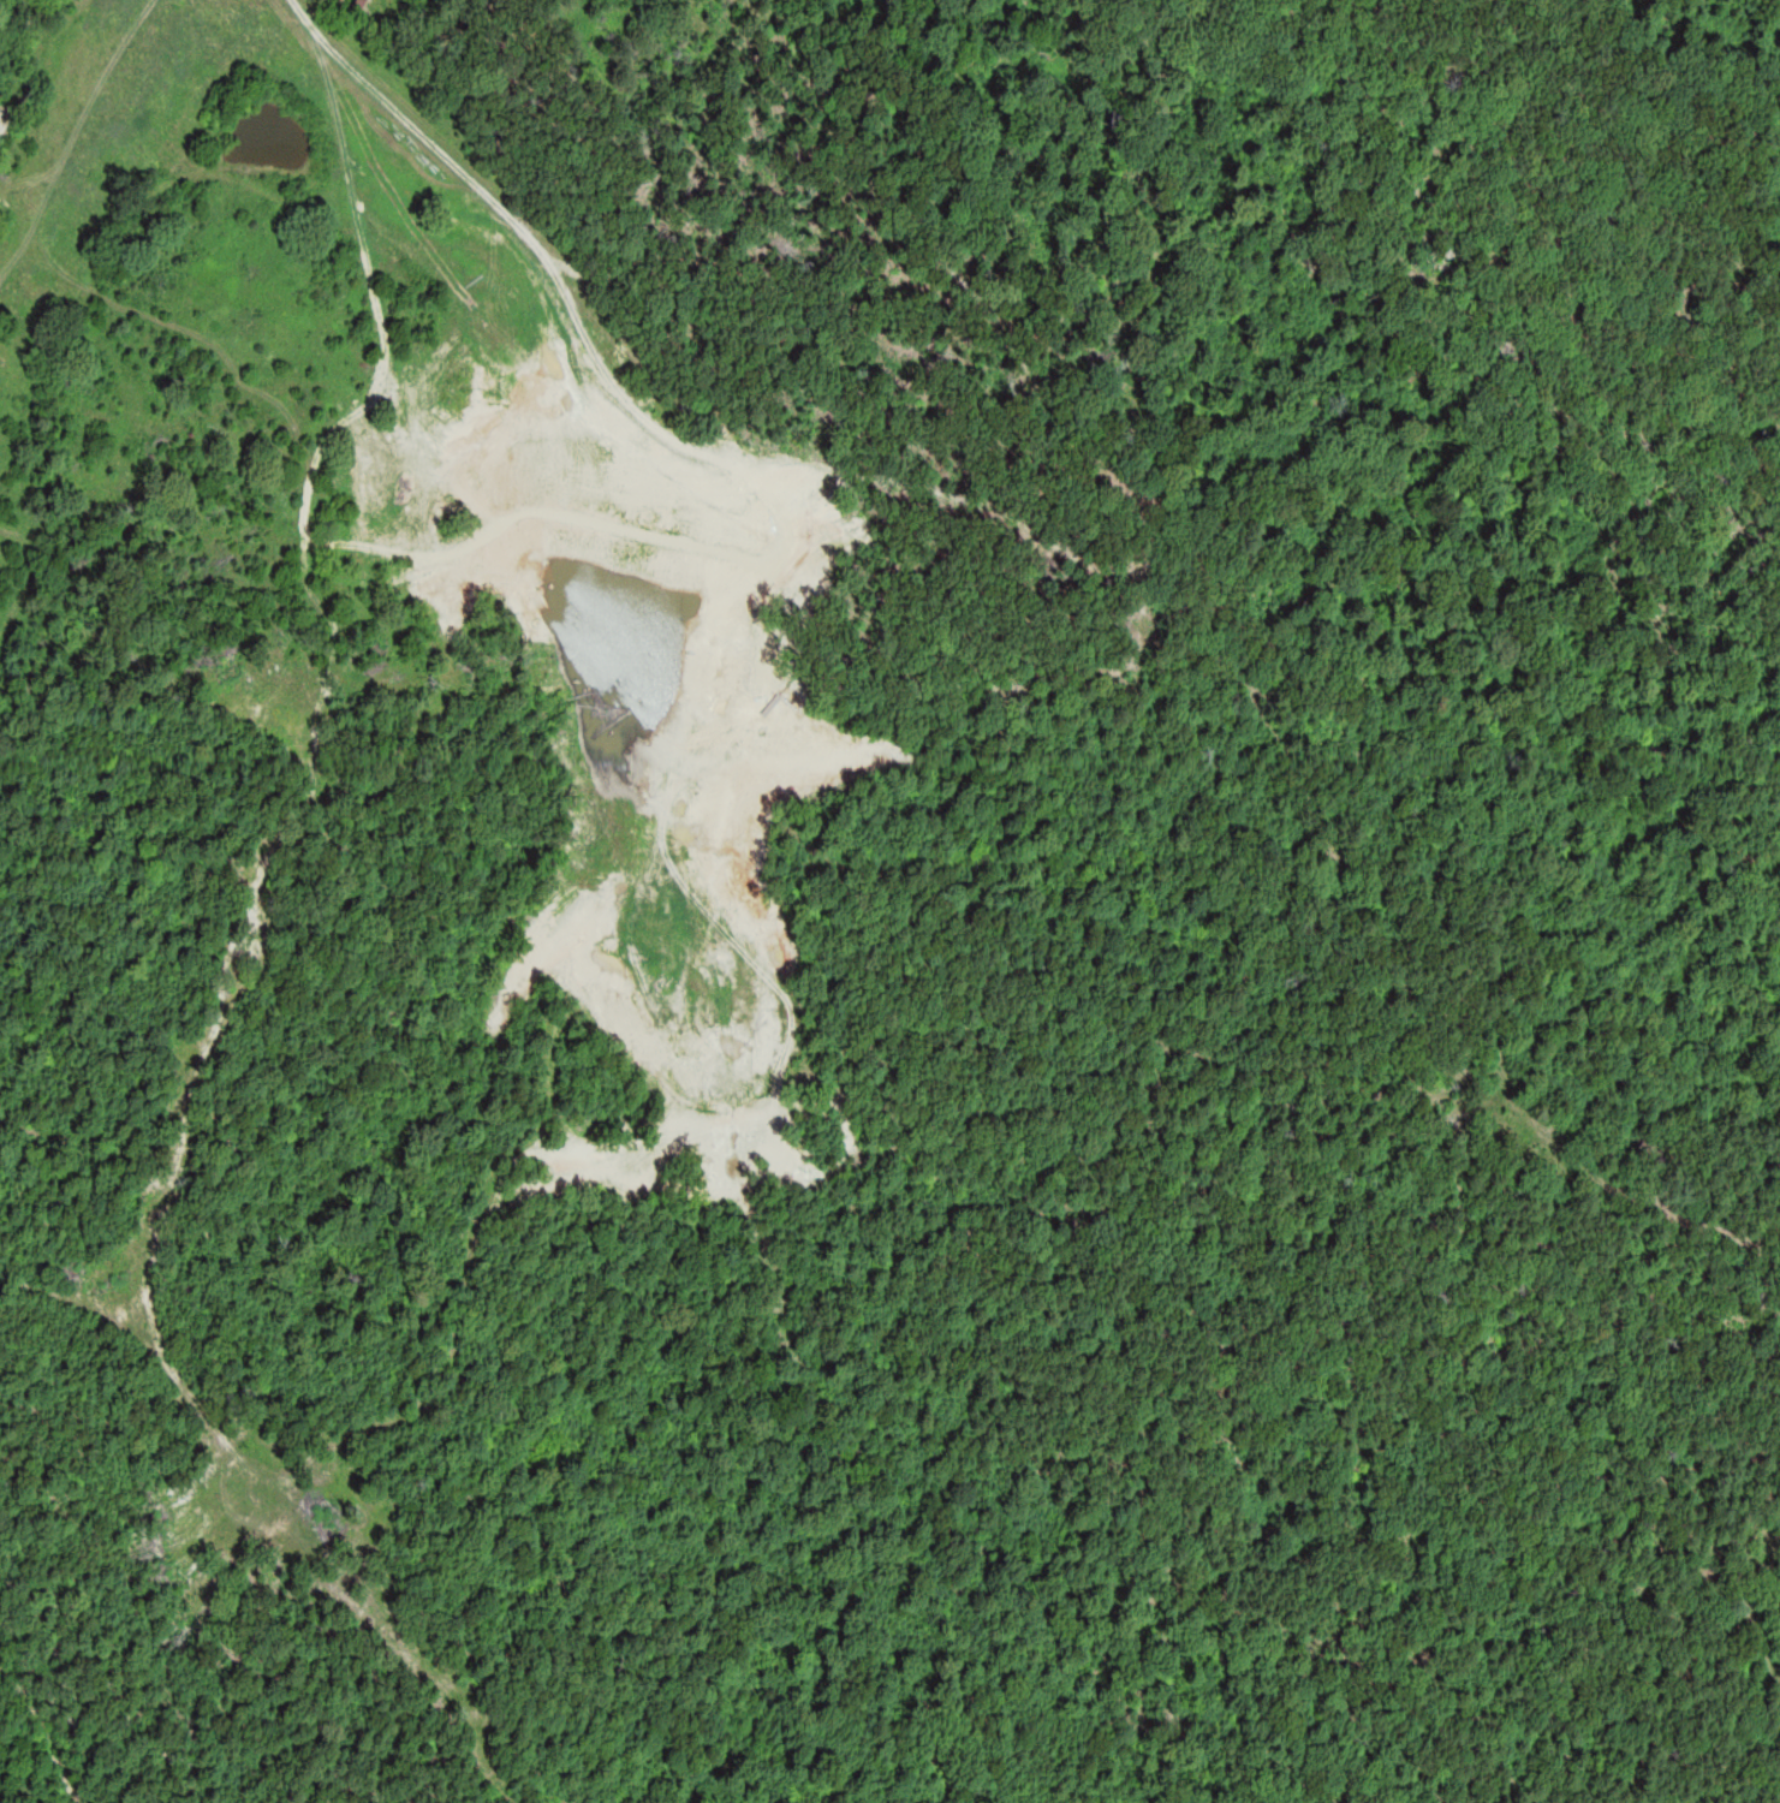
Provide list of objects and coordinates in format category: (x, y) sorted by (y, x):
road: (79, 113)

